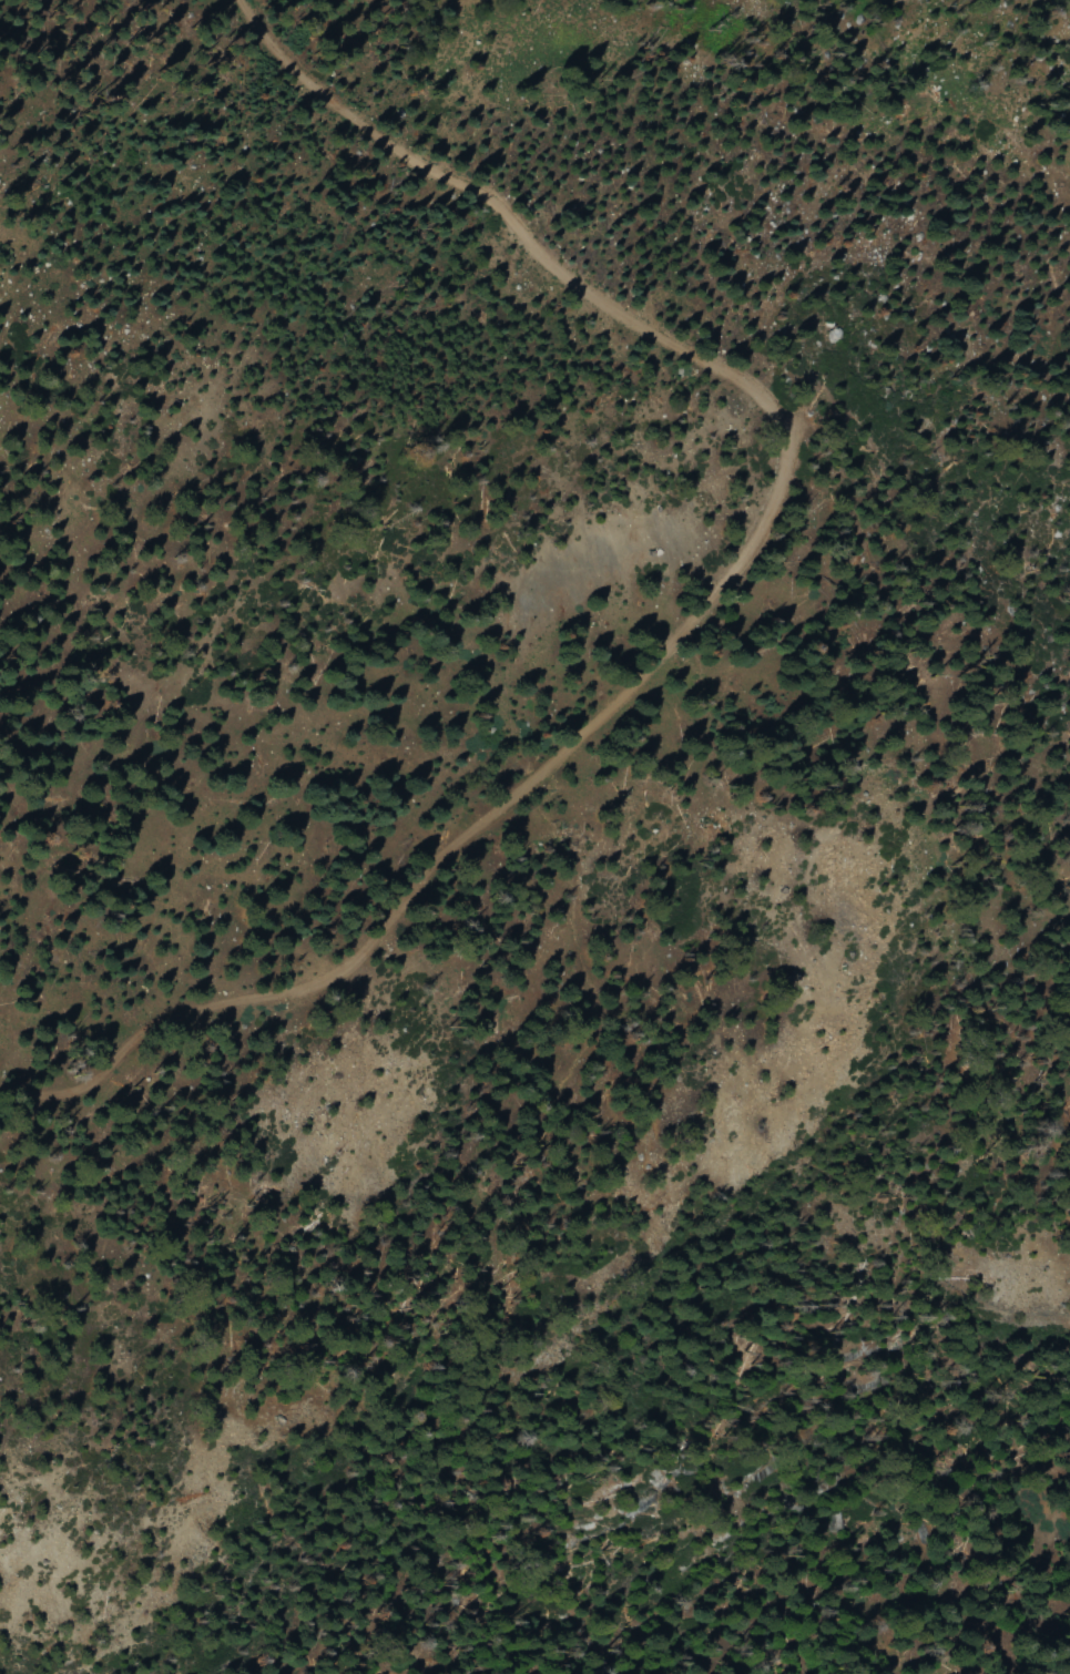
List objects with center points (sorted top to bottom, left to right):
road: (721, 614)

